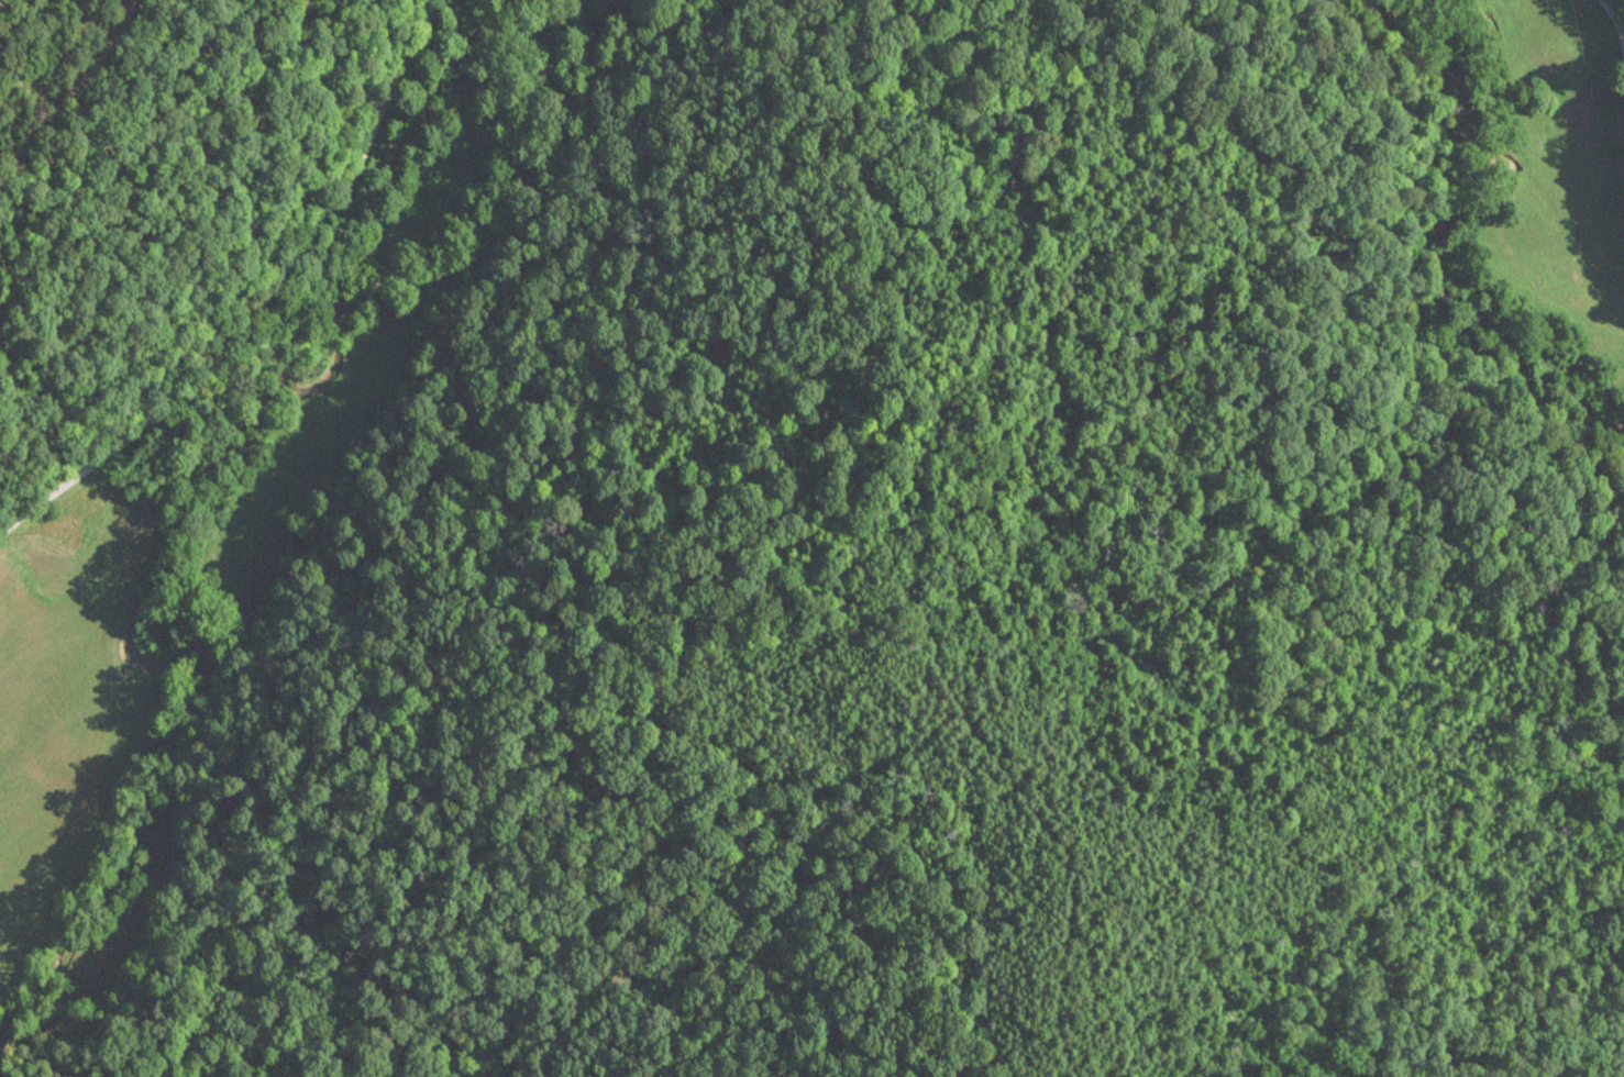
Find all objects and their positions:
road: (1619, 3)
road: (244, 303)

